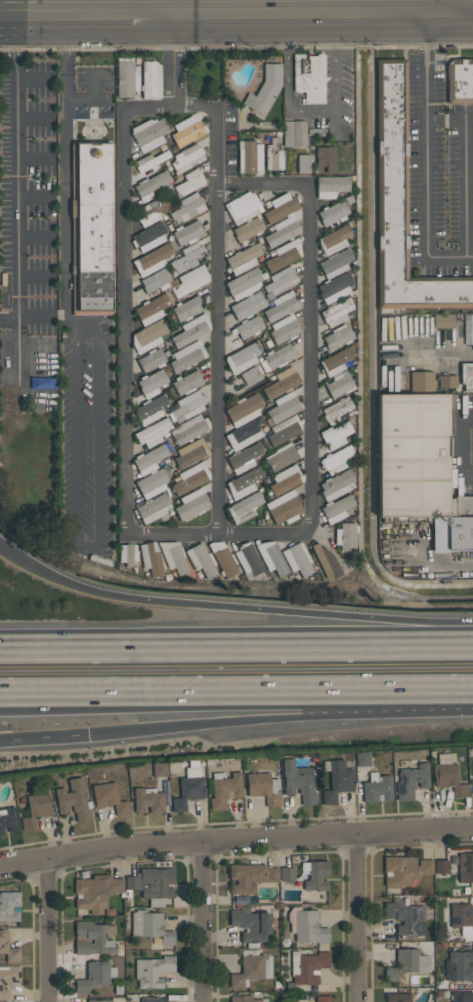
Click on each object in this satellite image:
road: (132, 6)
road: (191, 6)
road: (244, 6)
road: (236, 12)
road: (174, 59)
building: (126, 77)
building: (309, 77)
building: (150, 80)
building: (460, 81)
building: (265, 89)
road: (175, 106)
road: (310, 111)
building: (187, 130)
building: (148, 133)
building: (294, 133)
building: (273, 156)
road: (425, 156)
building: (249, 157)
building: (187, 158)
building: (326, 158)
building: (150, 160)
building: (303, 163)
road: (16, 166)
road: (65, 175)
building: (189, 182)
road: (263, 184)
building: (153, 185)
building: (331, 185)
building: (401, 206)
building: (187, 207)
building: (242, 207)
building: (280, 207)
building: (152, 211)
building: (332, 212)
building: (91, 228)
building: (247, 229)
building: (281, 231)
building: (187, 232)
building: (149, 237)
building: (334, 239)
building: (283, 255)
building: (187, 257)
building: (243, 258)
building: (151, 260)
building: (335, 263)
building: (156, 280)
building: (190, 280)
building: (280, 281)
building: (243, 284)
building: (334, 287)
building: (247, 305)
building: (280, 306)
building: (187, 307)
building: (150, 310)
building: (337, 313)
road: (24, 318)
building: (442, 320)
building: (247, 327)
building: (284, 328)
building: (468, 329)
building: (191, 330)
road: (84, 333)
building: (148, 336)
building: (338, 336)
road: (442, 353)
building: (186, 356)
building: (276, 357)
building: (242, 358)
building: (337, 358)
building: (151, 359)
building: (251, 376)
building: (466, 376)
building: (8, 379)
building: (187, 381)
building: (421, 381)
building: (447, 381)
building: (281, 382)
building: (151, 383)
building: (339, 385)
road: (309, 402)
building: (188, 405)
building: (283, 408)
building: (151, 409)
building: (243, 410)
building: (336, 410)
building: (189, 429)
building: (284, 429)
building: (152, 432)
building: (243, 435)
building: (335, 435)
building: (190, 452)
building: (282, 456)
building: (244, 457)
building: (149, 459)
building: (336, 459)
building: (420, 467)
building: (191, 477)
building: (286, 479)
building: (152, 483)
building: (244, 483)
building: (336, 485)
building: (191, 503)
building: (153, 507)
building: (244, 507)
building: (284, 507)
building: (337, 508)
road: (169, 534)
building: (346, 536)
road: (85, 544)
road: (0, 547)
building: (128, 553)
building: (173, 557)
building: (271, 557)
building: (151, 558)
building: (223, 558)
building: (297, 558)
building: (201, 560)
building: (326, 560)
building: (249, 561)
road: (231, 608)
road: (236, 642)
road: (236, 695)
road: (275, 719)
road: (39, 739)
building: (362, 758)
building: (159, 769)
building: (448, 775)
building: (337, 779)
building: (411, 780)
building: (300, 781)
building: (189, 786)
building: (263, 787)
building: (376, 788)
building: (224, 789)
building: (109, 797)
building: (74, 799)
building: (148, 800)
building: (35, 809)
building: (8, 819)
road: (235, 840)
building: (442, 866)
building: (465, 867)
building: (404, 869)
building: (287, 873)
building: (315, 874)
building: (250, 876)
building: (152, 884)
building: (95, 892)
building: (9, 905)
building: (406, 917)
building: (462, 918)
road: (360, 919)
road: (204, 922)
building: (250, 923)
building: (150, 925)
building: (306, 926)
road: (47, 932)
building: (93, 938)
building: (8, 948)
building: (407, 963)
building: (308, 966)
building: (458, 966)
building: (248, 970)
building: (152, 971)
building: (95, 975)
building: (8, 978)
building: (461, 996)
building: (397, 997)
building: (243, 998)
building: (322, 998)
building: (152, 999)
building: (98, 1000)

